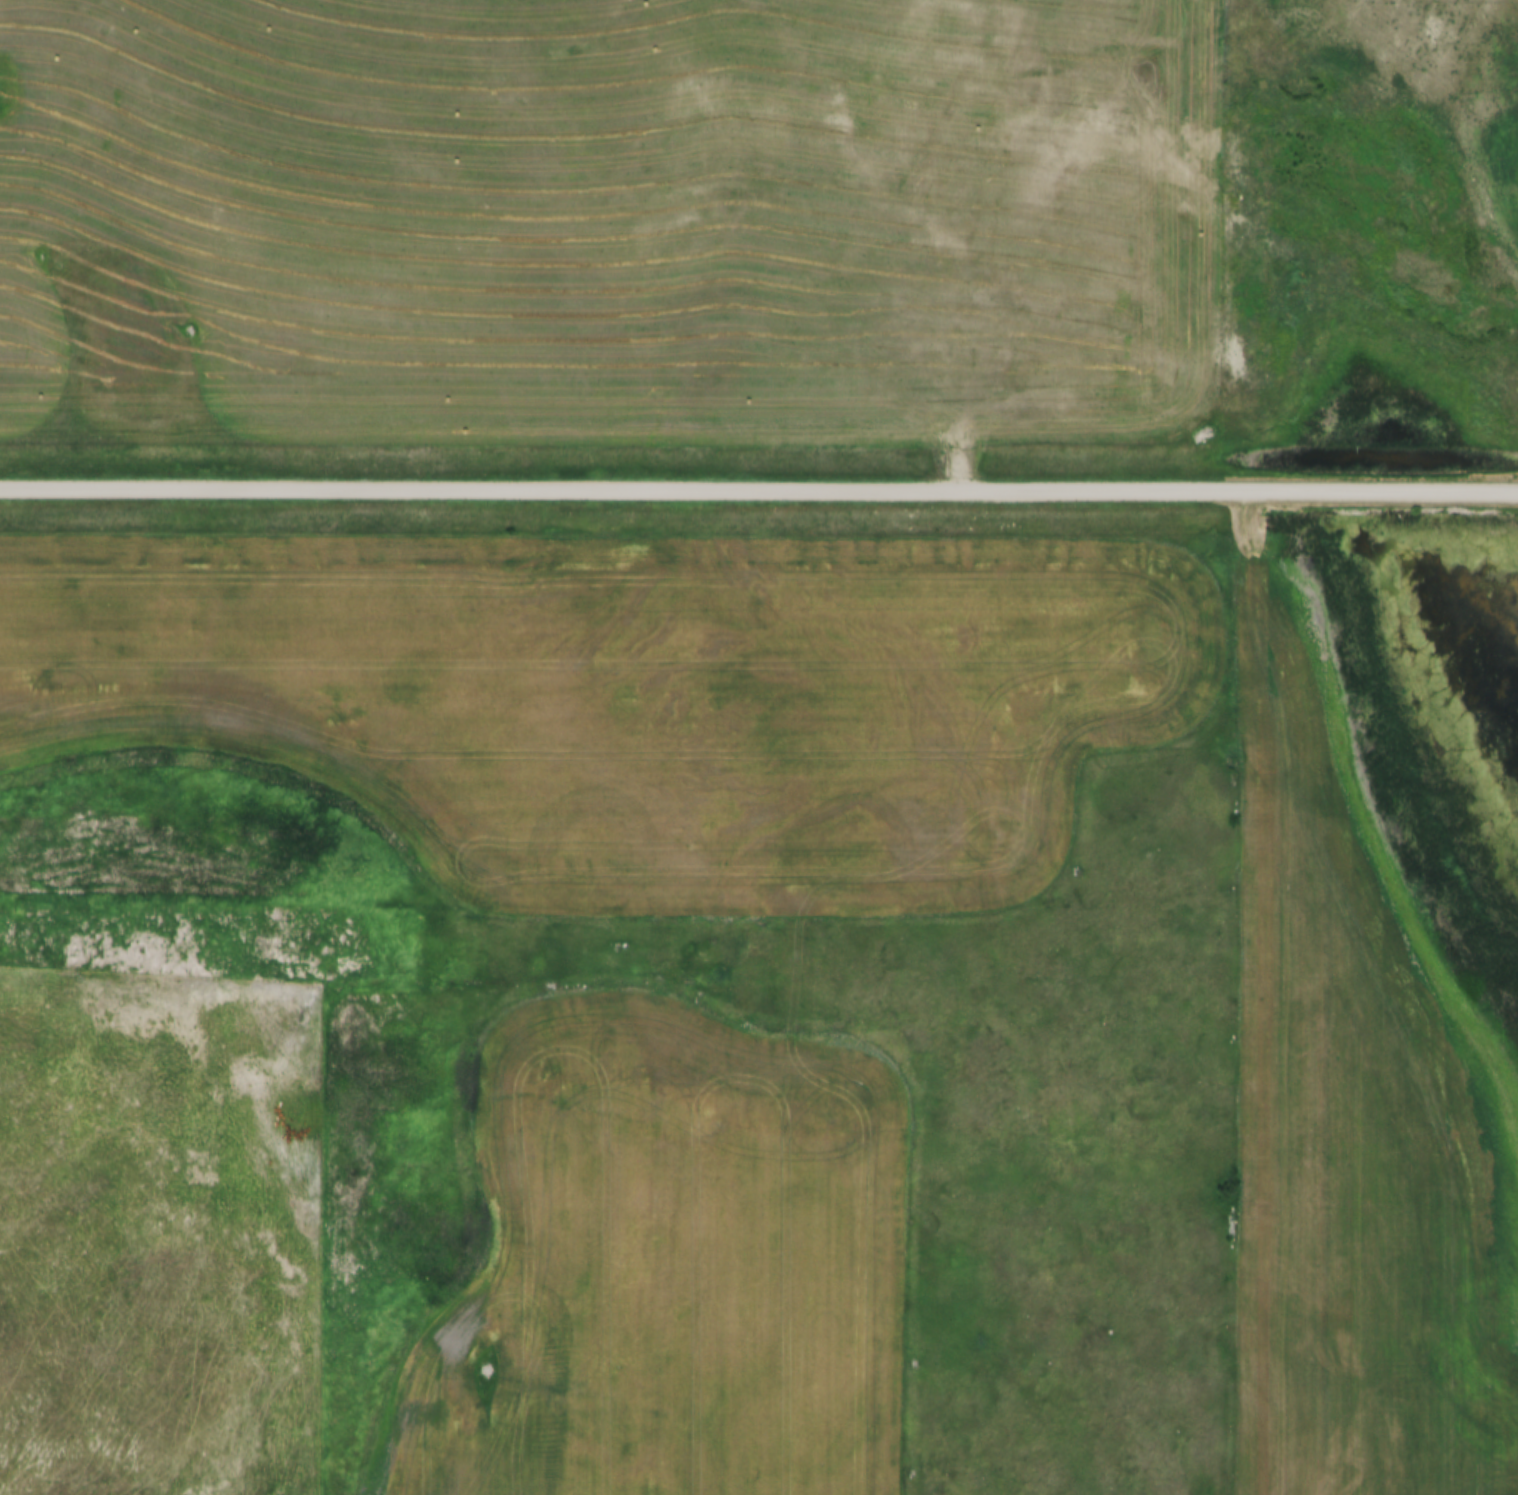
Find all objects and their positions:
building: (803, 444)
road: (759, 488)

